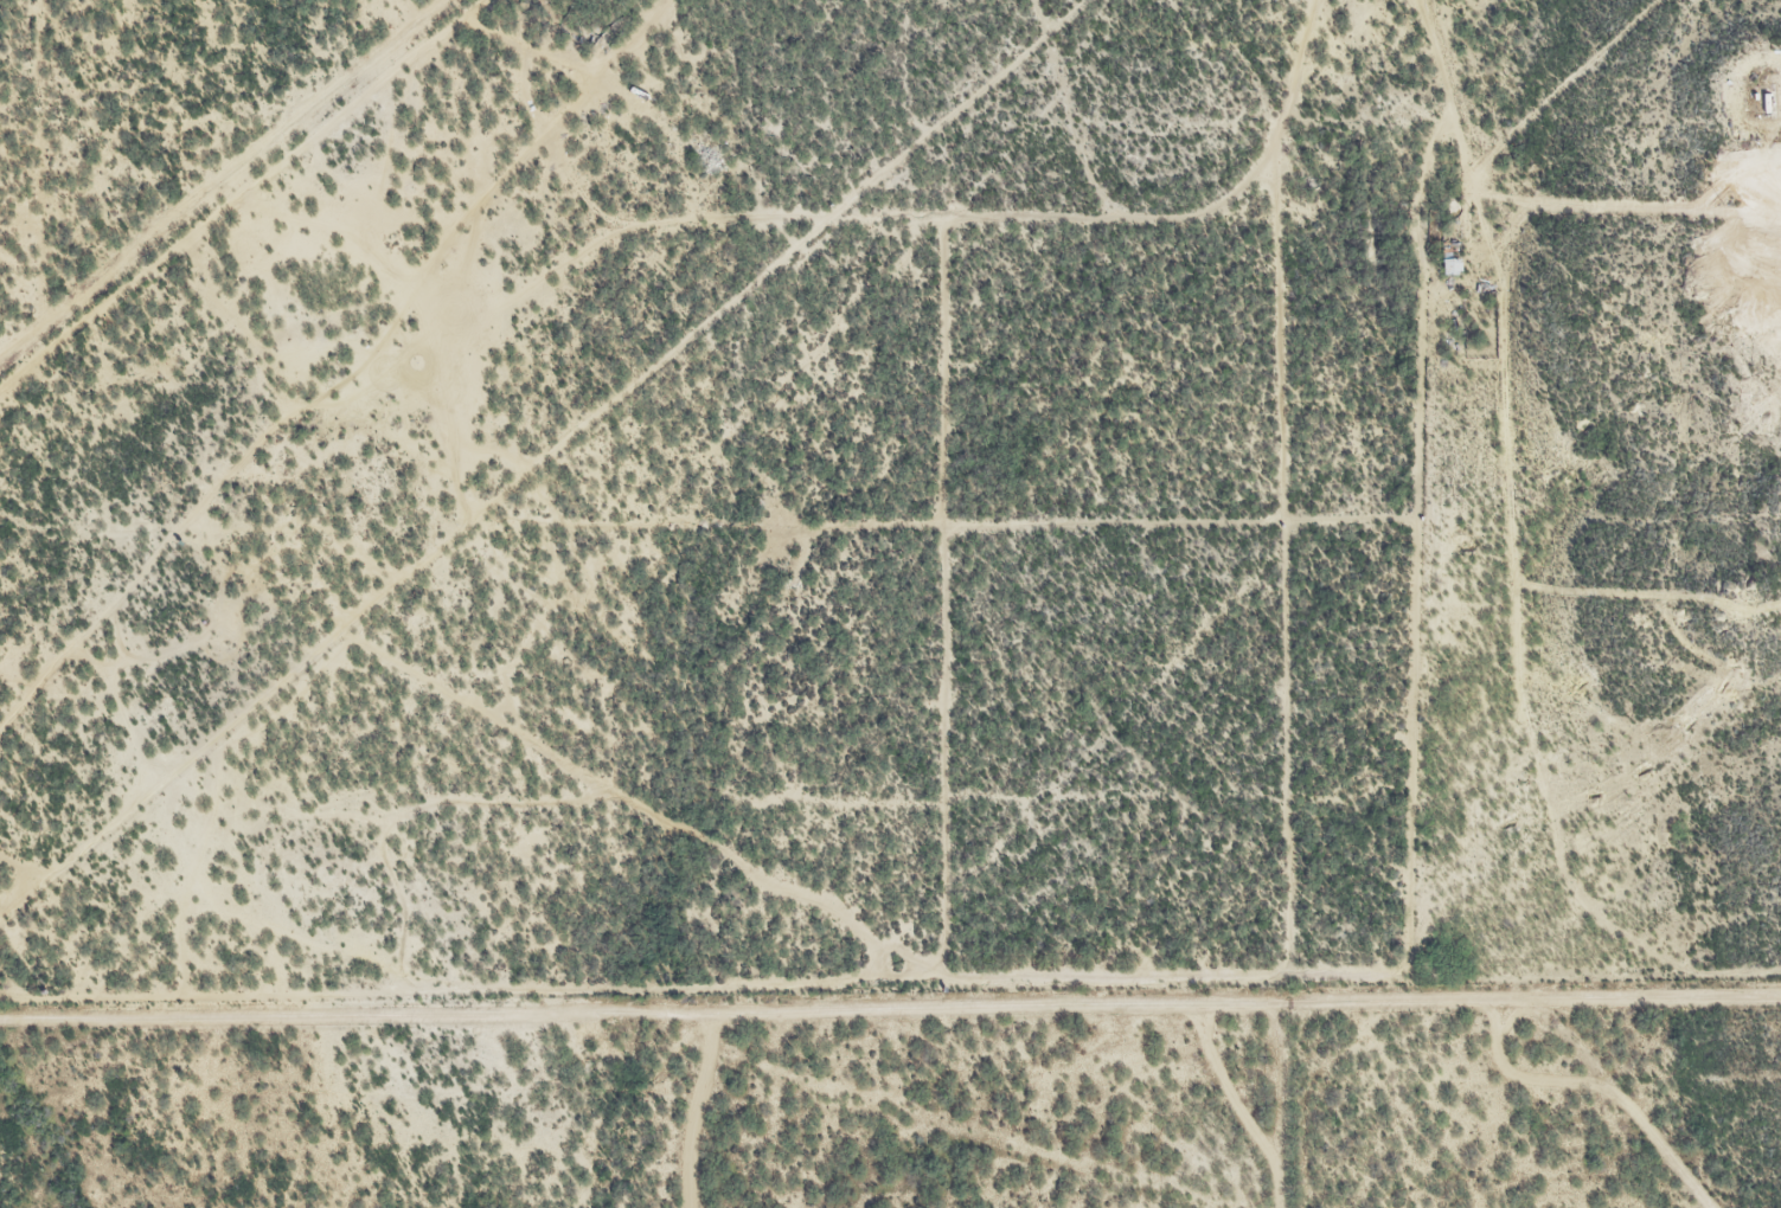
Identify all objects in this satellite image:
road: (1461, 54)
building: (1449, 264)

